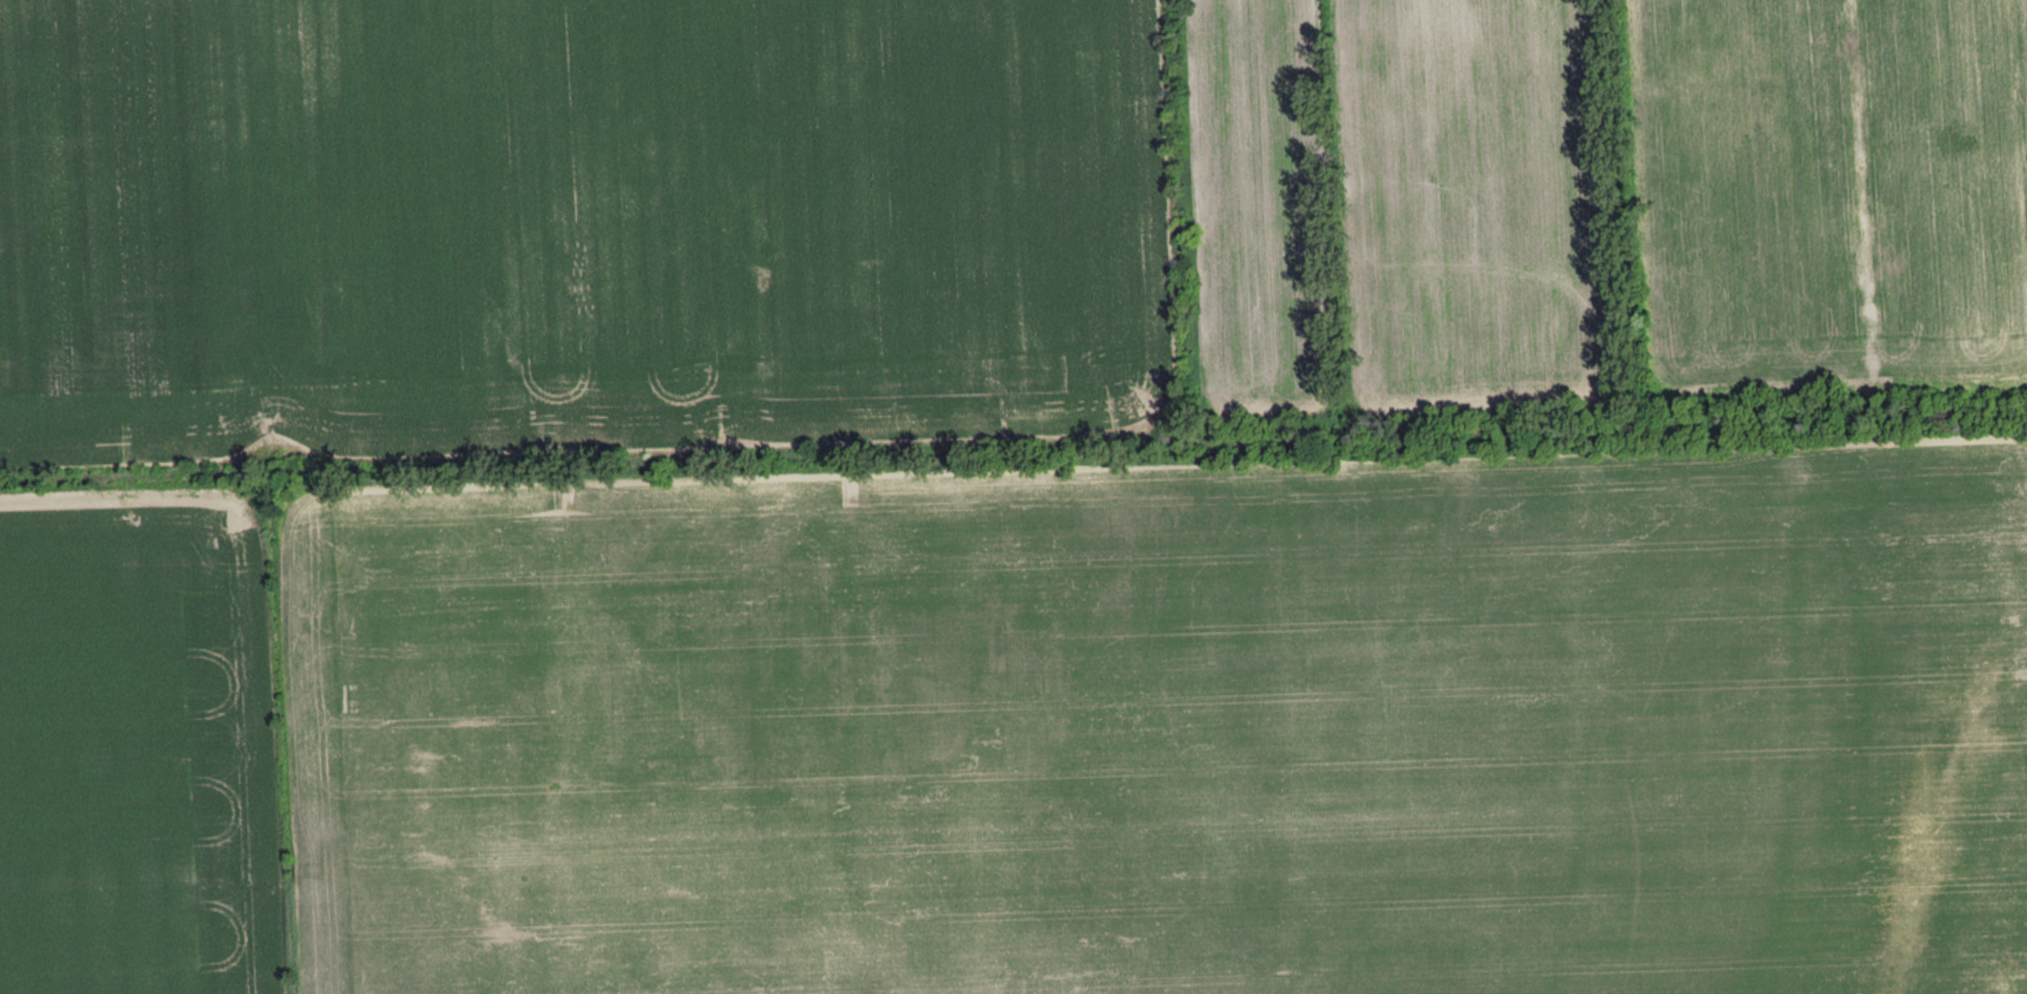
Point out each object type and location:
building: (703, 945)

